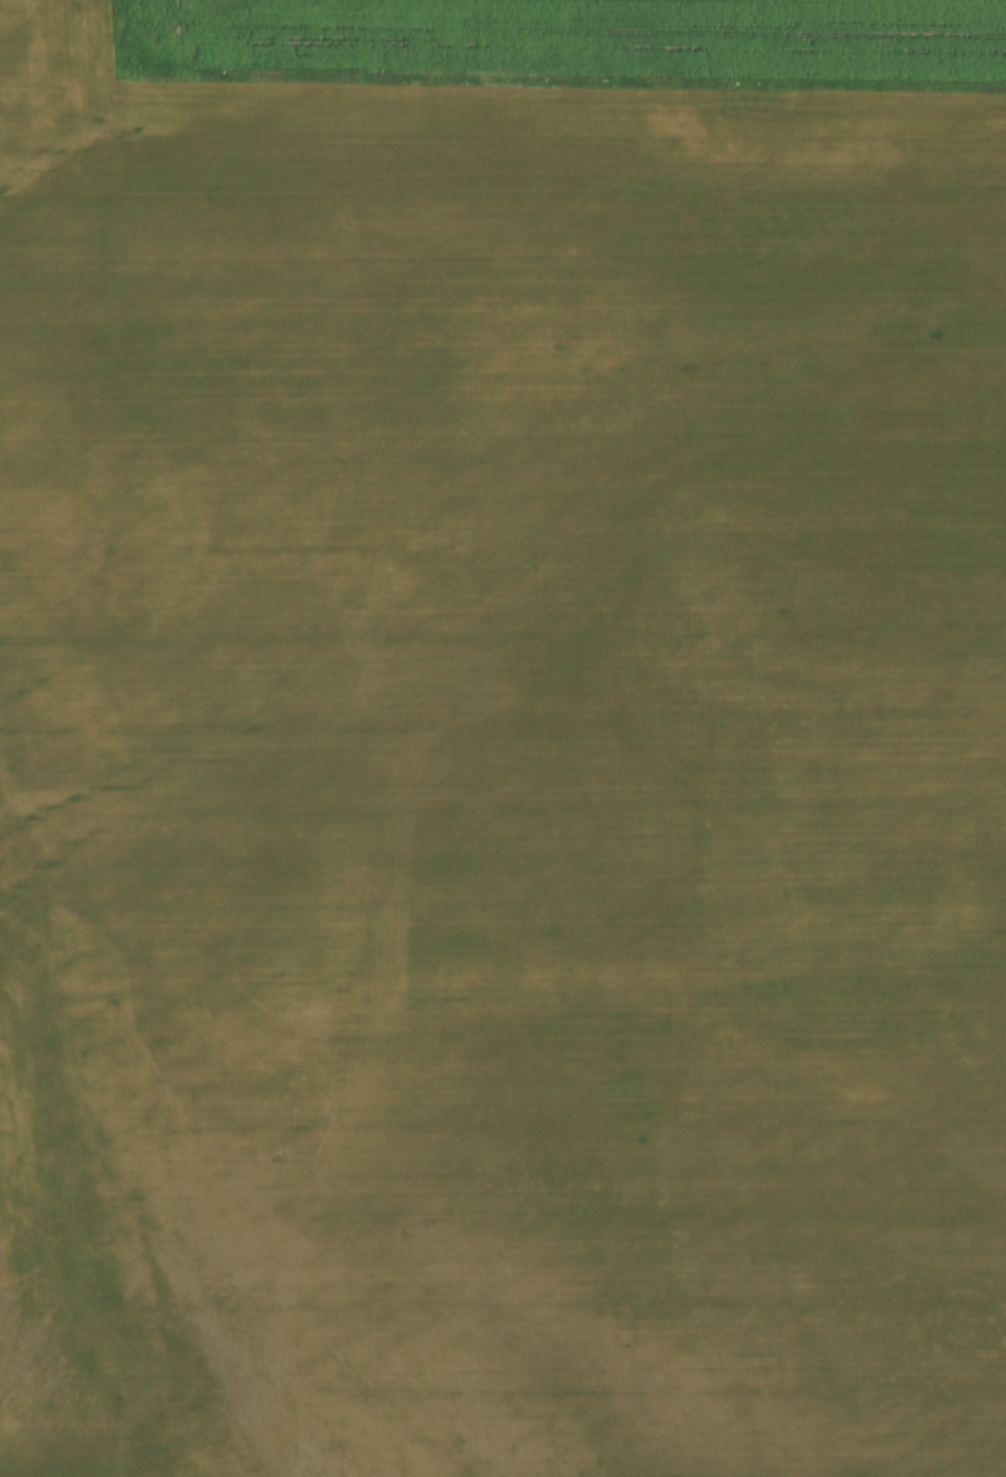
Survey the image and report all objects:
road: (118, 36)
road: (562, 72)

